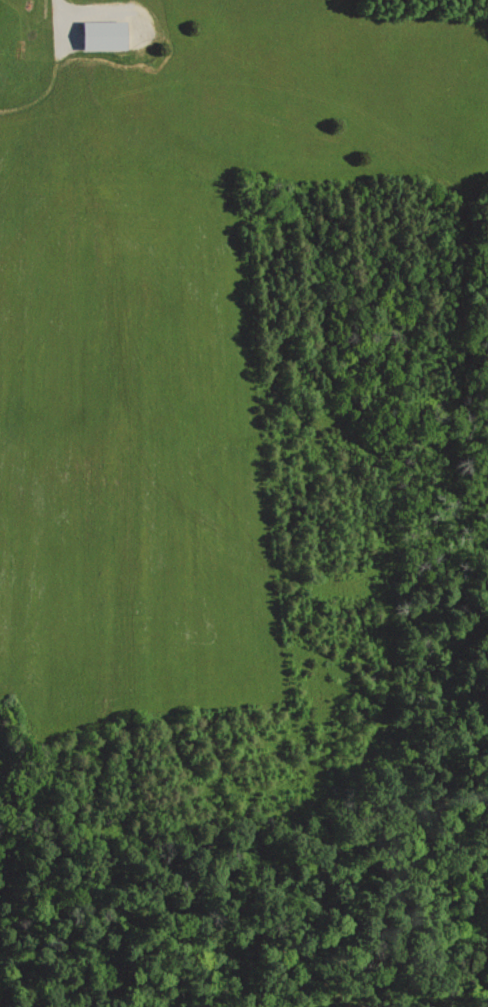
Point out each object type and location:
road: (64, 33)
building: (98, 35)
road: (37, 97)

